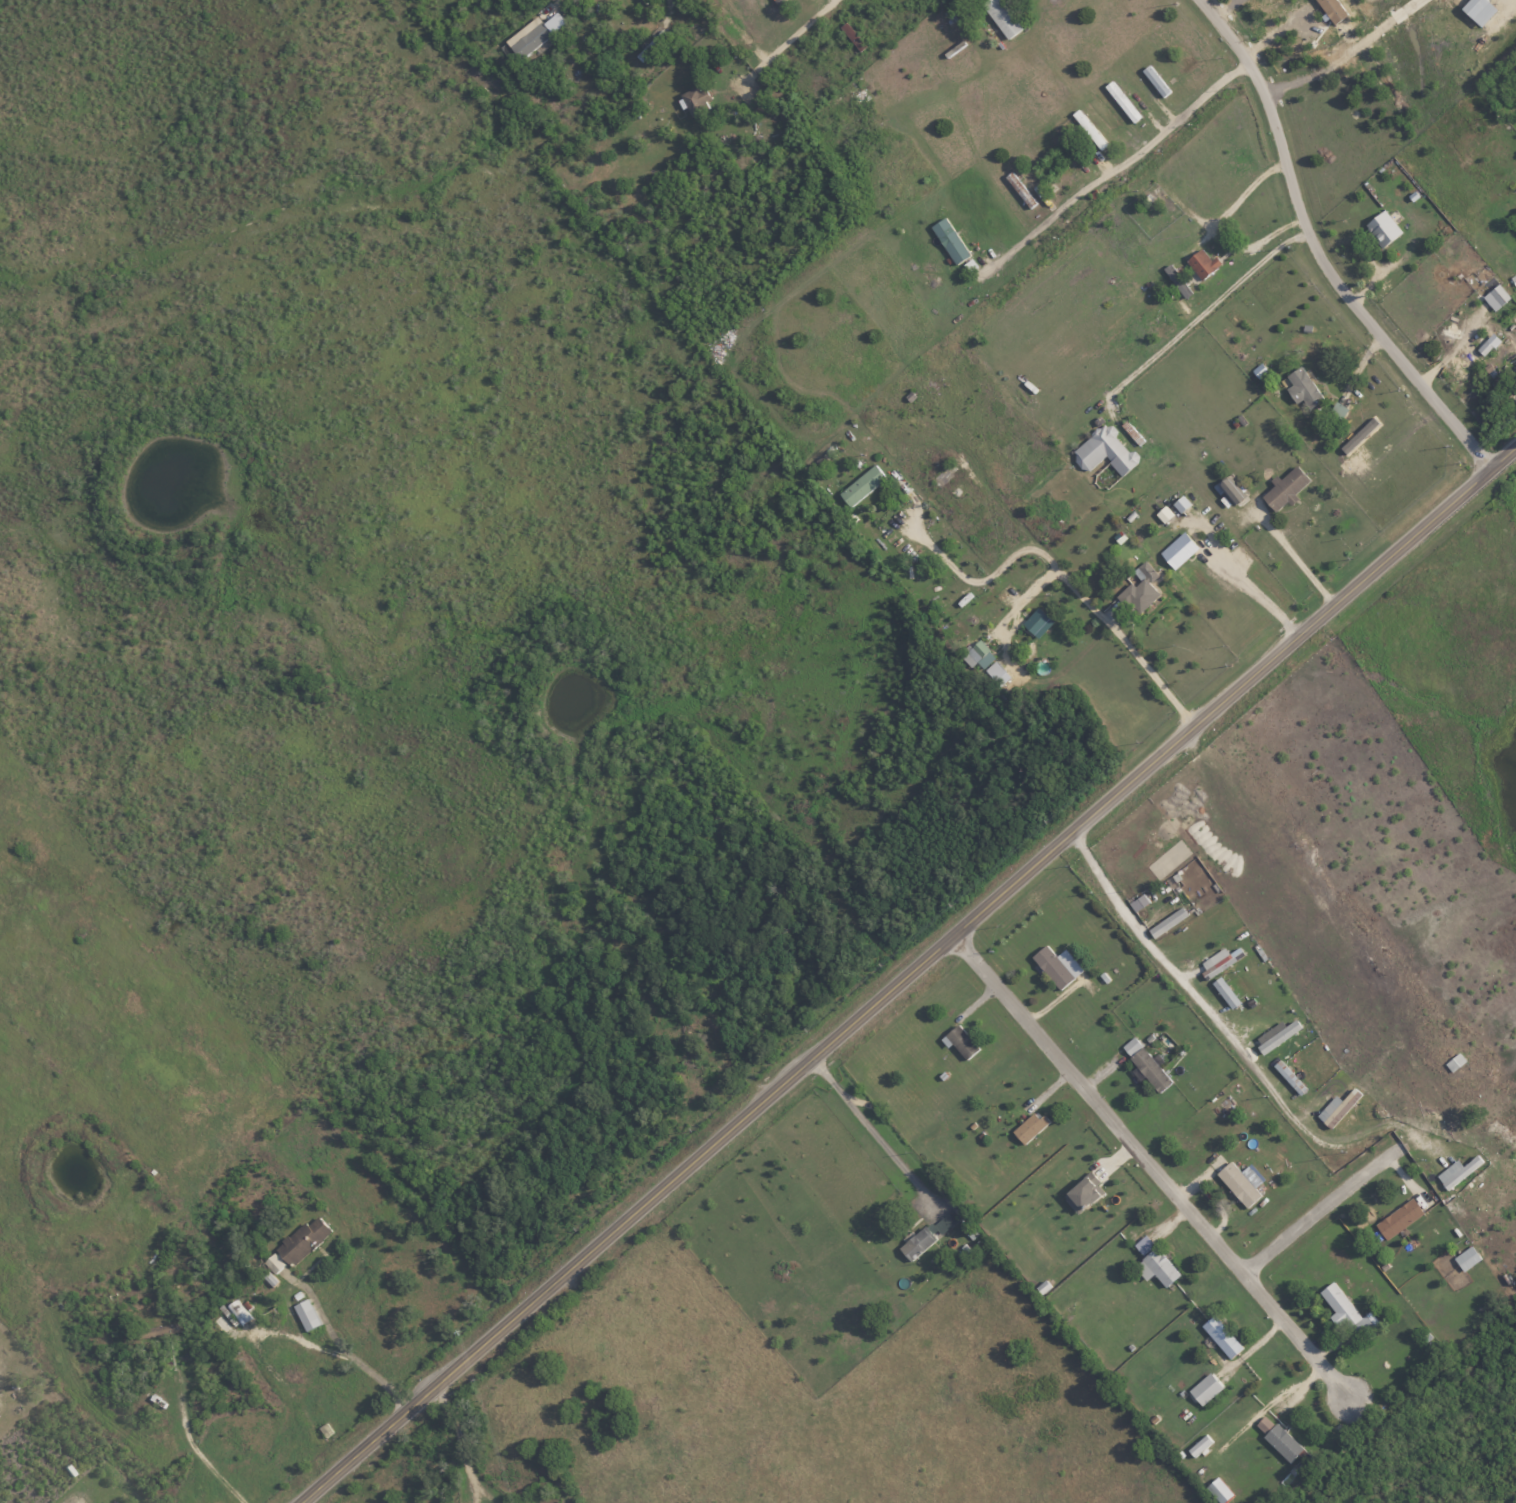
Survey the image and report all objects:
road: (552, 0)
road: (1515, 0)
building: (1332, 9)
building: (1479, 10)
building: (1001, 17)
road: (812, 30)
building: (533, 33)
building: (650, 46)
road: (1347, 53)
building: (1155, 80)
building: (696, 100)
building: (1121, 101)
building: (1089, 129)
road: (1124, 160)
building: (1382, 228)
road: (1216, 231)
building: (949, 240)
road: (1317, 250)
building: (1203, 262)
building: (1177, 280)
building: (1495, 297)
road: (1202, 310)
building: (1487, 344)
building: (1259, 370)
building: (1303, 387)
building: (1105, 450)
building: (862, 485)
building: (1285, 488)
building: (1232, 492)
building: (1164, 514)
building: (1178, 550)
road: (1292, 557)
road: (1065, 575)
road: (1251, 587)
building: (1140, 589)
building: (1037, 623)
building: (978, 655)
building: (997, 673)
building: (1138, 902)
building: (1167, 922)
building: (1219, 960)
building: (1057, 965)
road: (909, 975)
building: (1225, 992)
building: (1277, 1035)
building: (961, 1041)
road: (1234, 1045)
building: (1145, 1063)
building: (1289, 1077)
building: (1337, 1107)
building: (1029, 1127)
road: (871, 1131)
road: (1148, 1171)
building: (1457, 1171)
building: (1238, 1184)
building: (1081, 1194)
road: (1319, 1209)
building: (1398, 1218)
building: (929, 1234)
building: (302, 1240)
building: (1143, 1244)
building: (1467, 1258)
building: (274, 1263)
building: (1156, 1267)
building: (268, 1277)
building: (1346, 1311)
building: (305, 1314)
building: (157, 1330)
building: (1221, 1336)
road: (276, 1339)
building: (1205, 1389)
building: (1264, 1424)
road: (191, 1436)
building: (1282, 1442)
building: (1199, 1445)
road: (464, 1448)
building: (1219, 1490)

